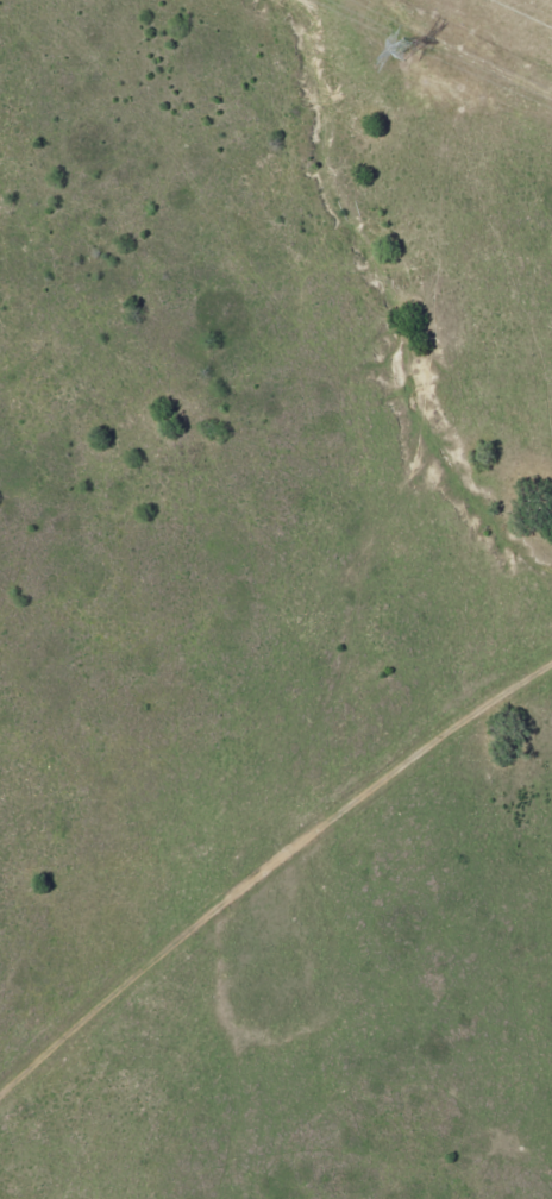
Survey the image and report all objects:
power tower: (403, 48)

